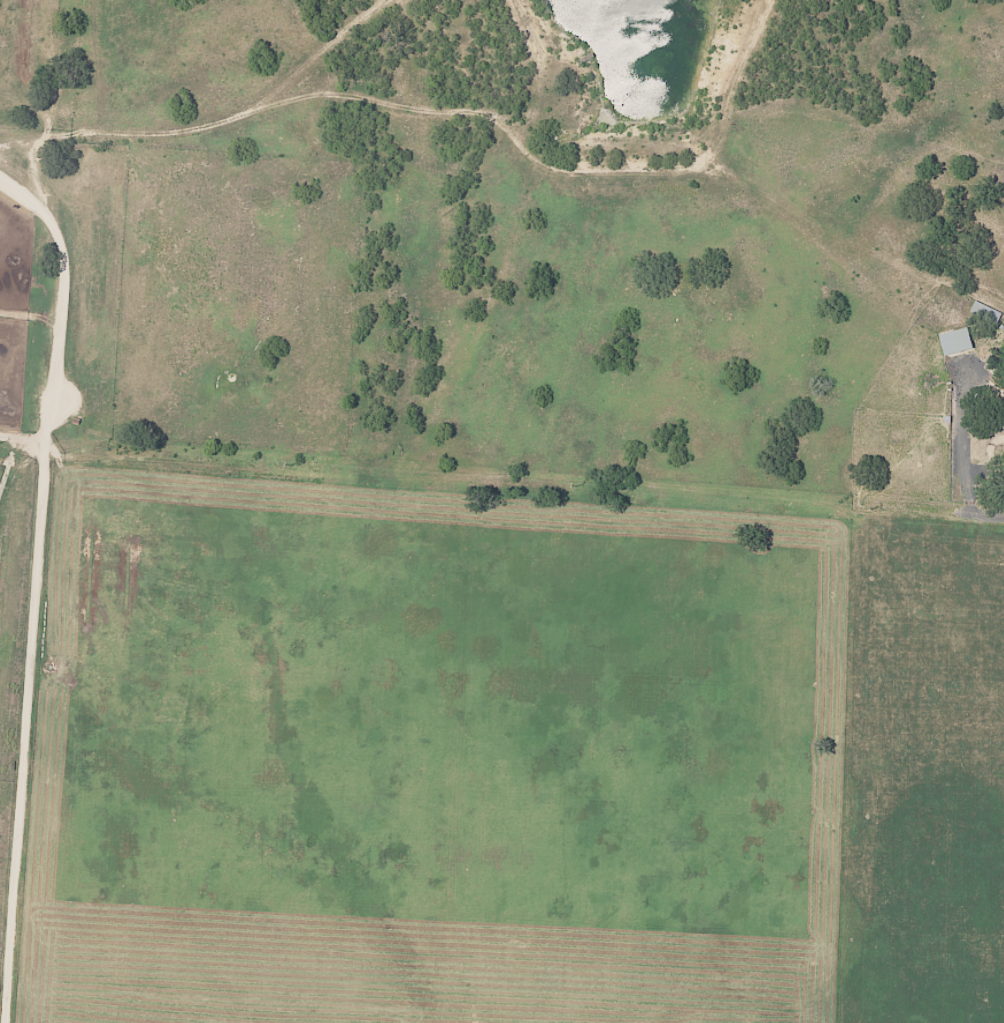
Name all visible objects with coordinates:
building: (986, 312)
building: (955, 341)
building: (1003, 393)
building: (1002, 407)
road: (24, 440)
road: (962, 441)
power tower: (0, 442)
power tower: (293, 465)
power tower: (577, 485)
power tower: (873, 508)
road: (979, 508)
road: (37, 584)

